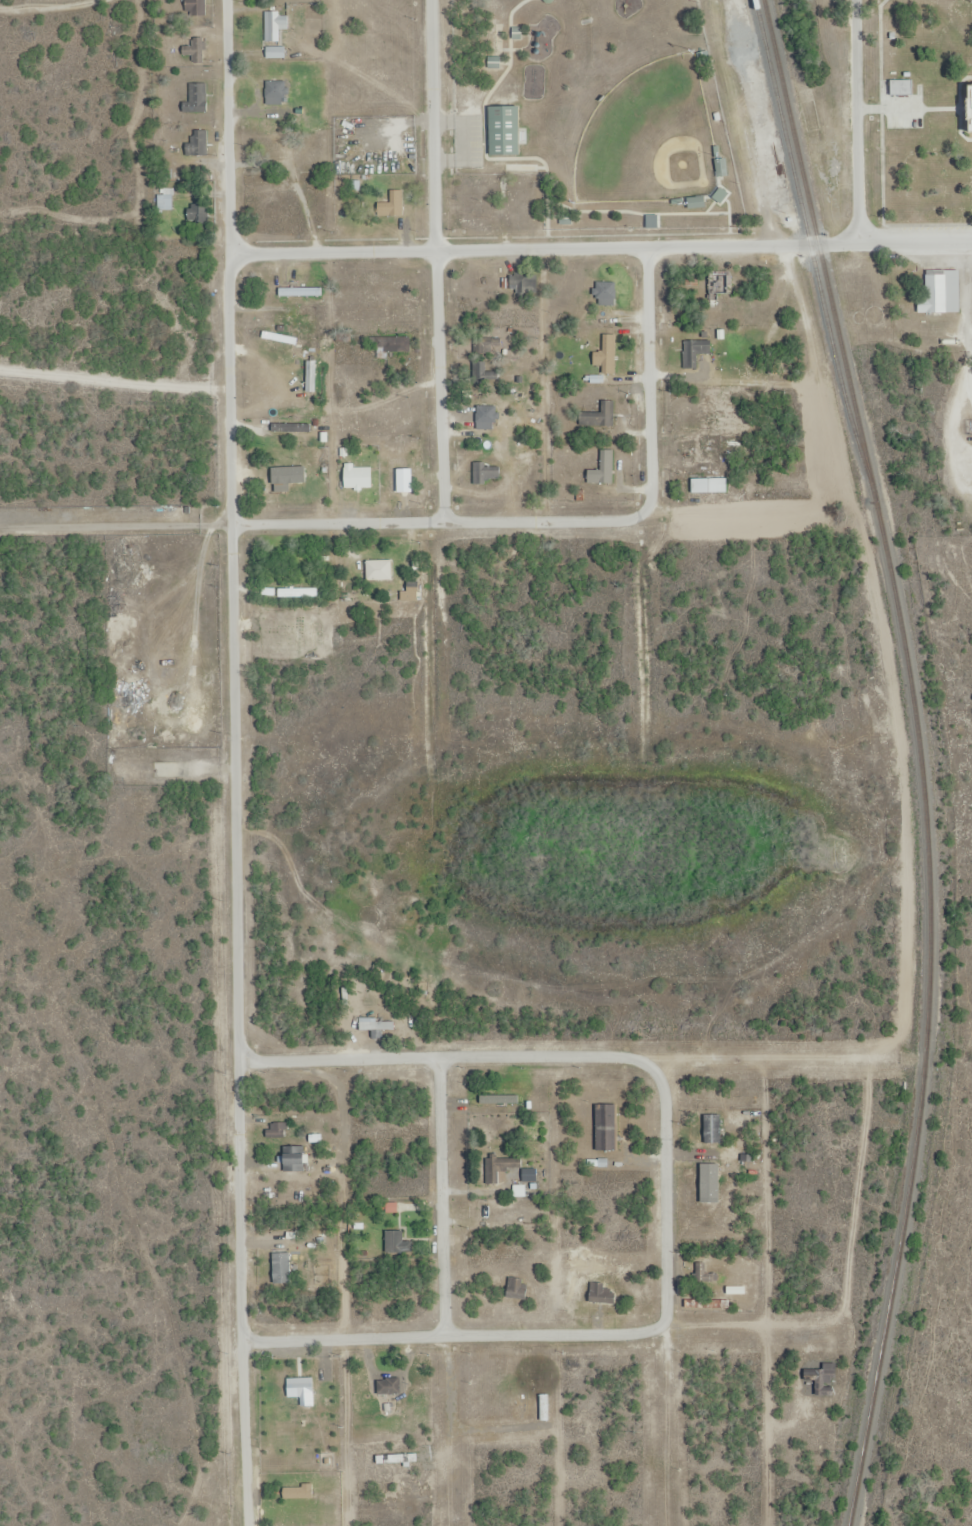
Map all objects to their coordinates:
building: (275, 25)
building: (276, 52)
building: (277, 87)
building: (197, 98)
building: (970, 109)
road: (864, 122)
building: (498, 130)
building: (275, 136)
building: (198, 142)
building: (166, 200)
building: (392, 205)
building: (198, 207)
road: (601, 247)
road: (437, 260)
railway: (814, 262)
building: (299, 282)
building: (522, 282)
building: (720, 286)
building: (694, 287)
building: (941, 291)
building: (608, 294)
building: (392, 346)
building: (735, 348)
building: (695, 351)
building: (607, 358)
building: (489, 371)
road: (115, 383)
road: (650, 383)
building: (291, 426)
building: (604, 469)
building: (481, 472)
building: (709, 485)
road: (442, 521)
building: (380, 569)
building: (298, 592)
railway: (922, 758)
road: (235, 763)
building: (378, 1024)
road: (575, 1060)
building: (294, 1158)
building: (505, 1165)
road: (451, 1197)
building: (398, 1242)
road: (459, 1333)

